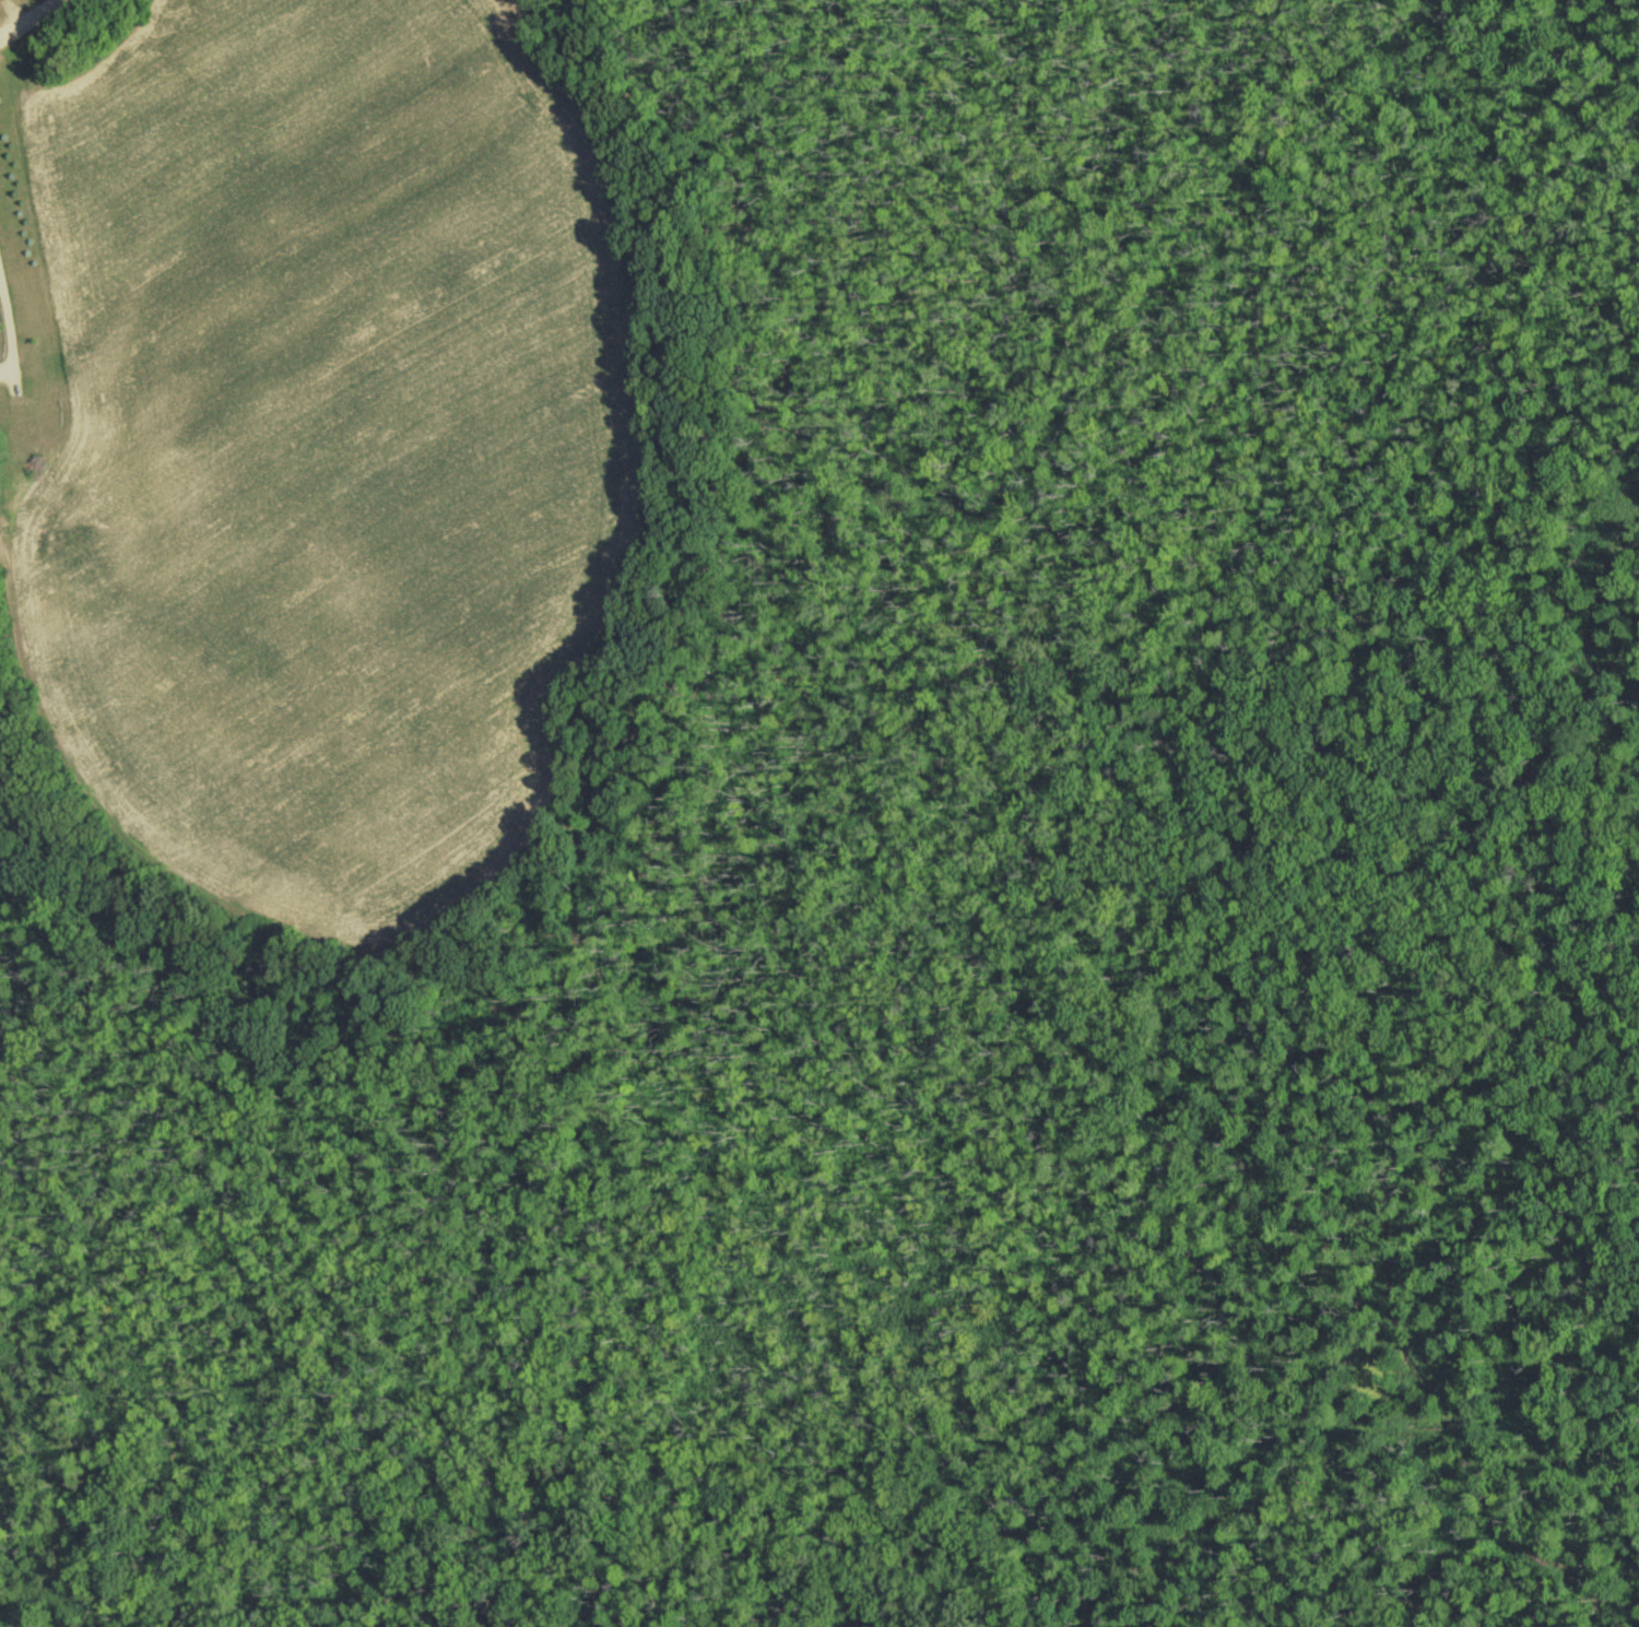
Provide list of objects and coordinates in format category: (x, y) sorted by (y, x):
road: (23, 15)

